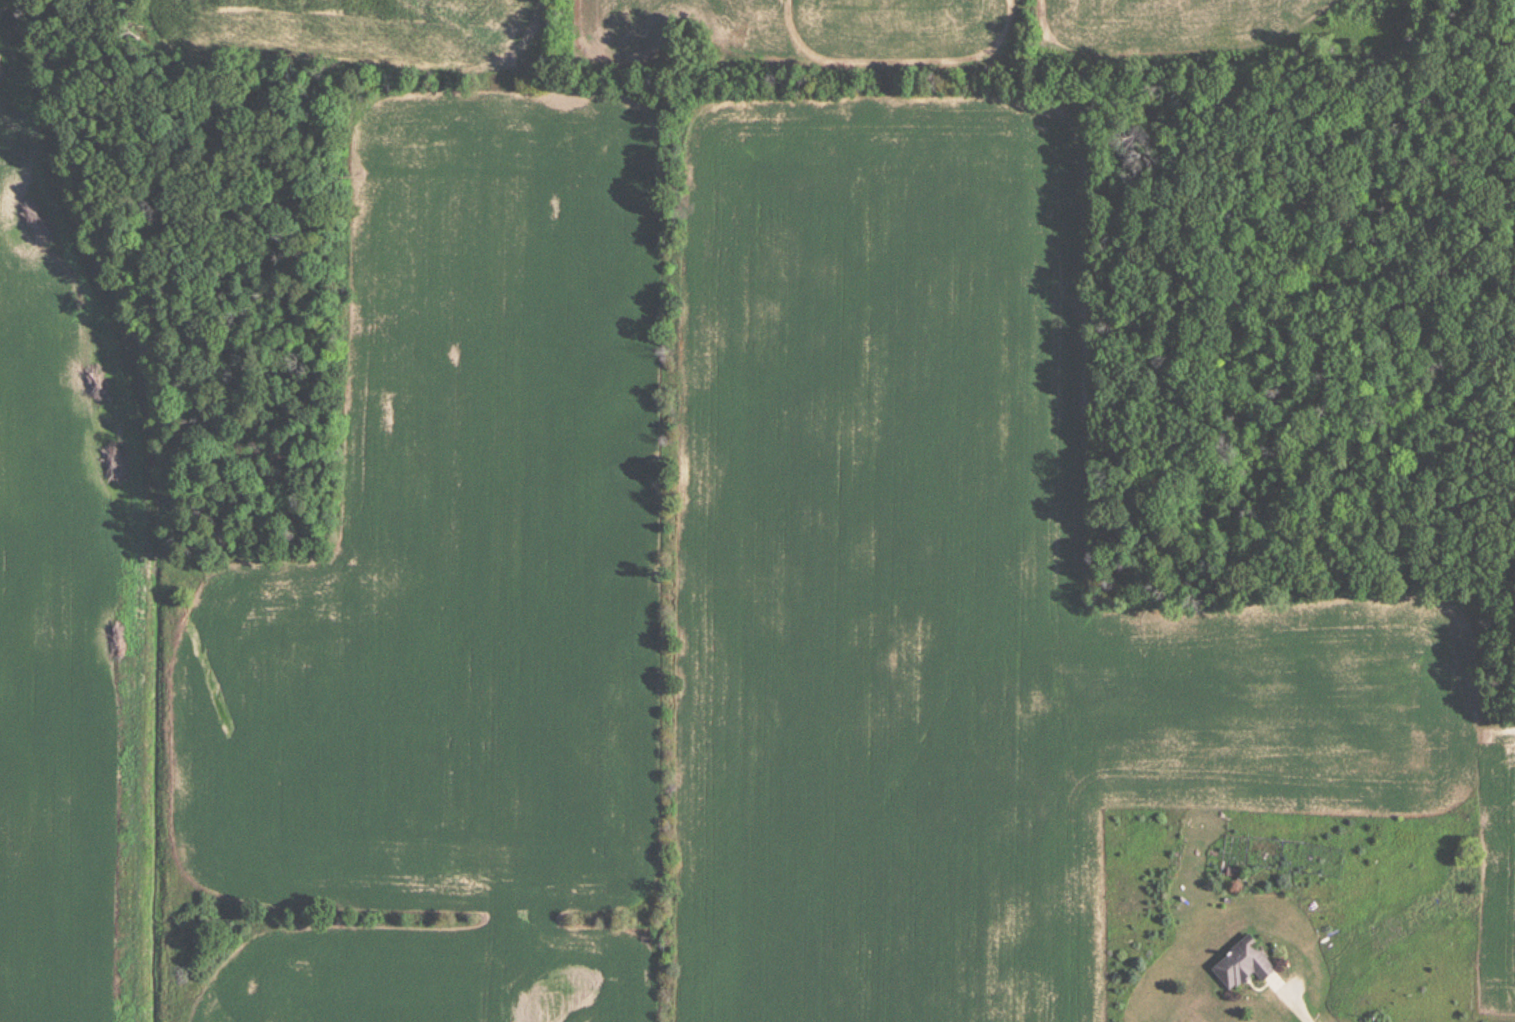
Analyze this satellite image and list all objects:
building: (1243, 965)
road: (1301, 1009)

